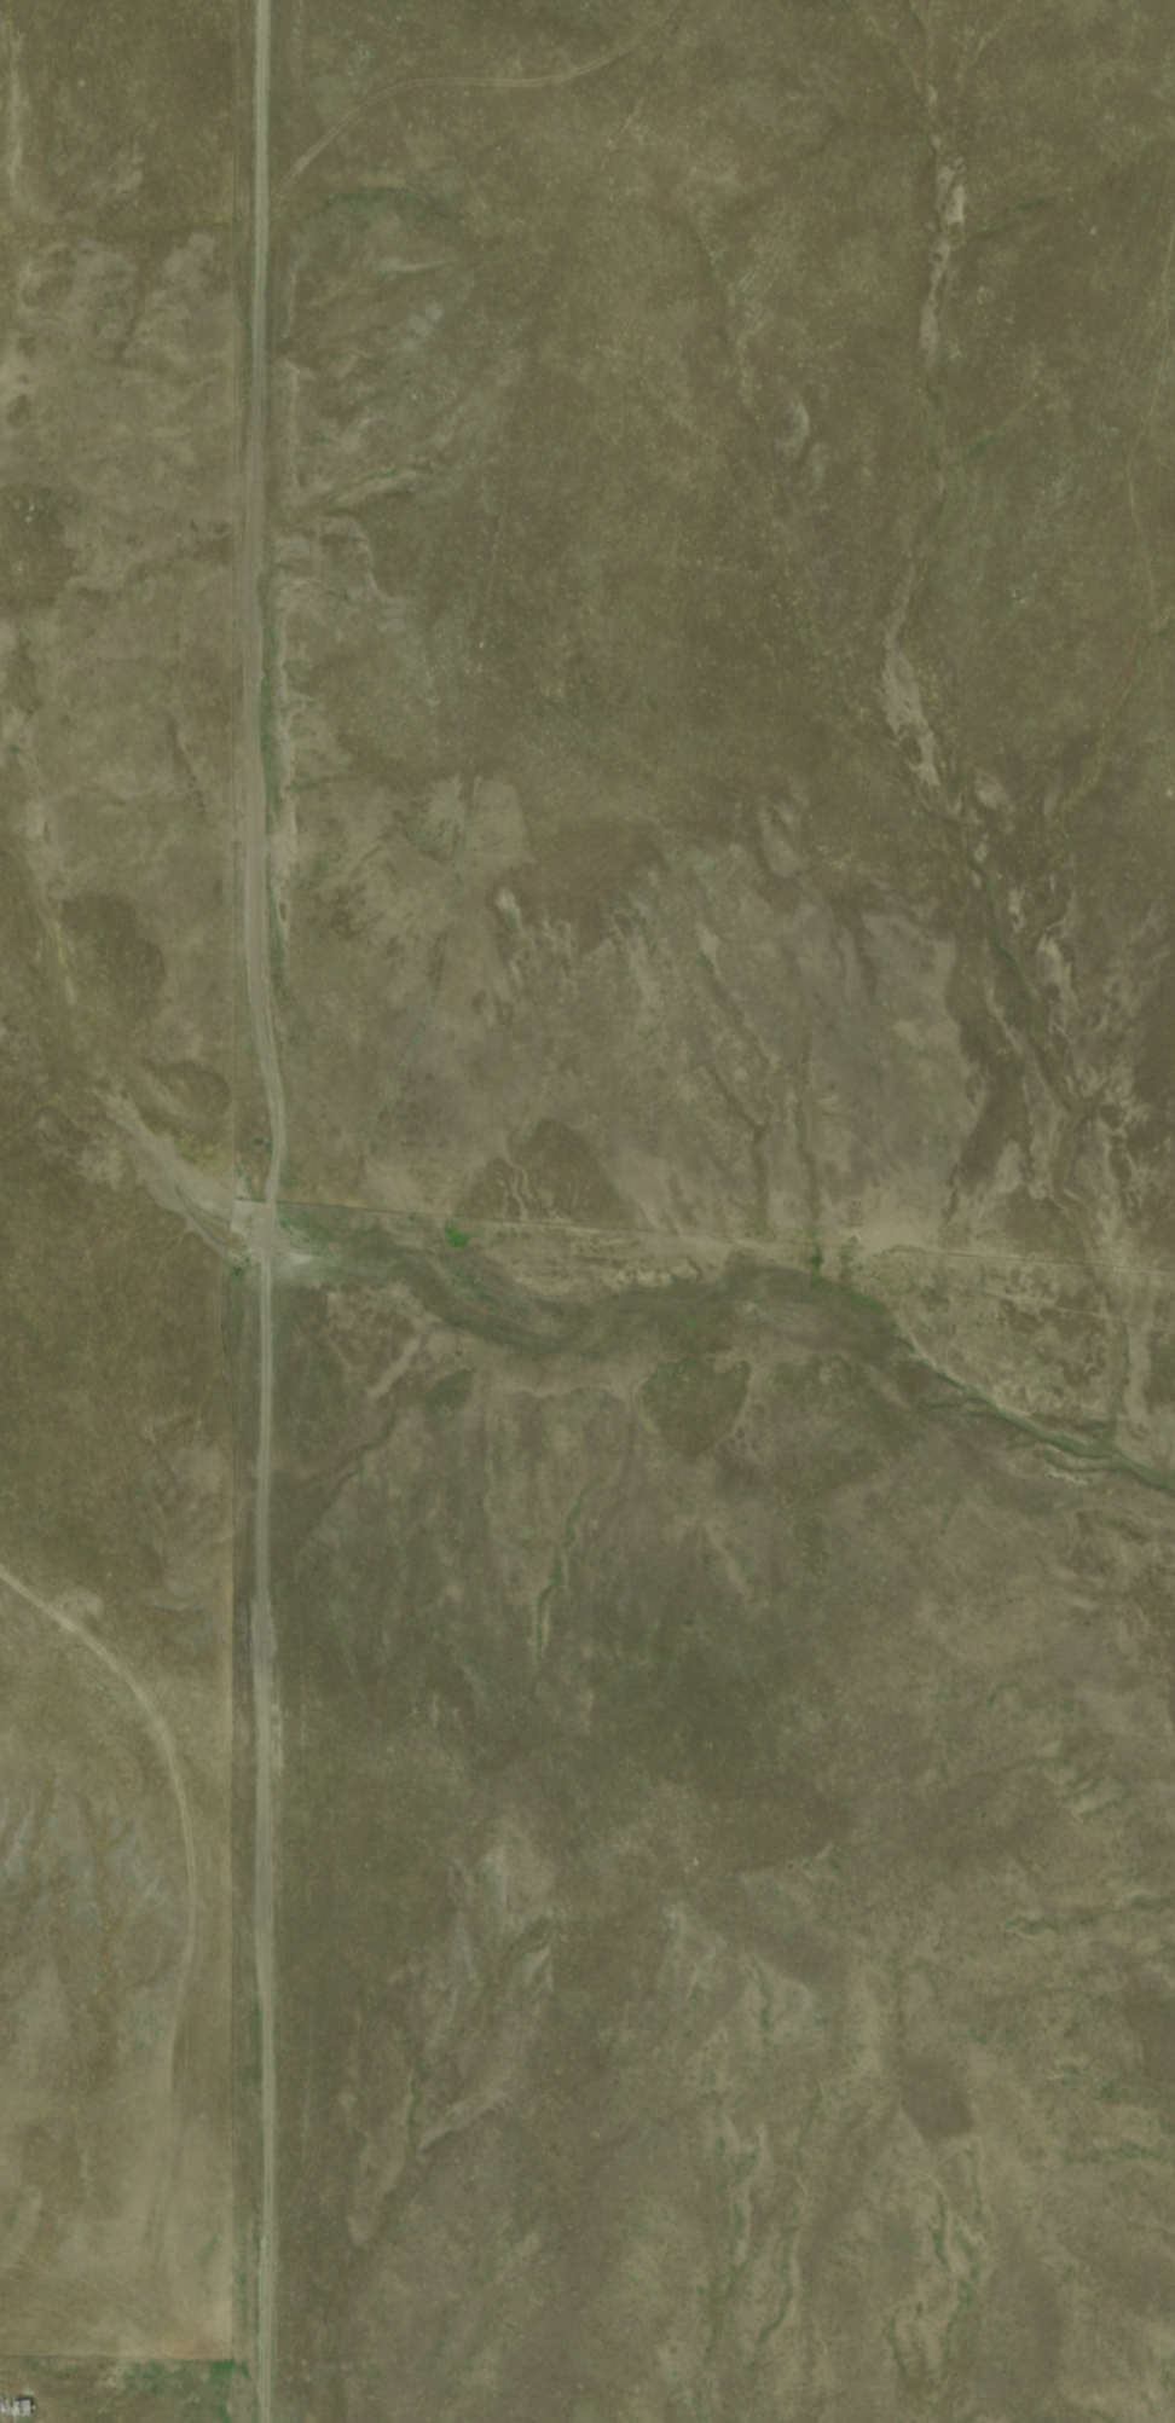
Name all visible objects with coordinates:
road: (242, 865)
road: (129, 1651)
road: (260, 2076)
building: (15, 2405)

